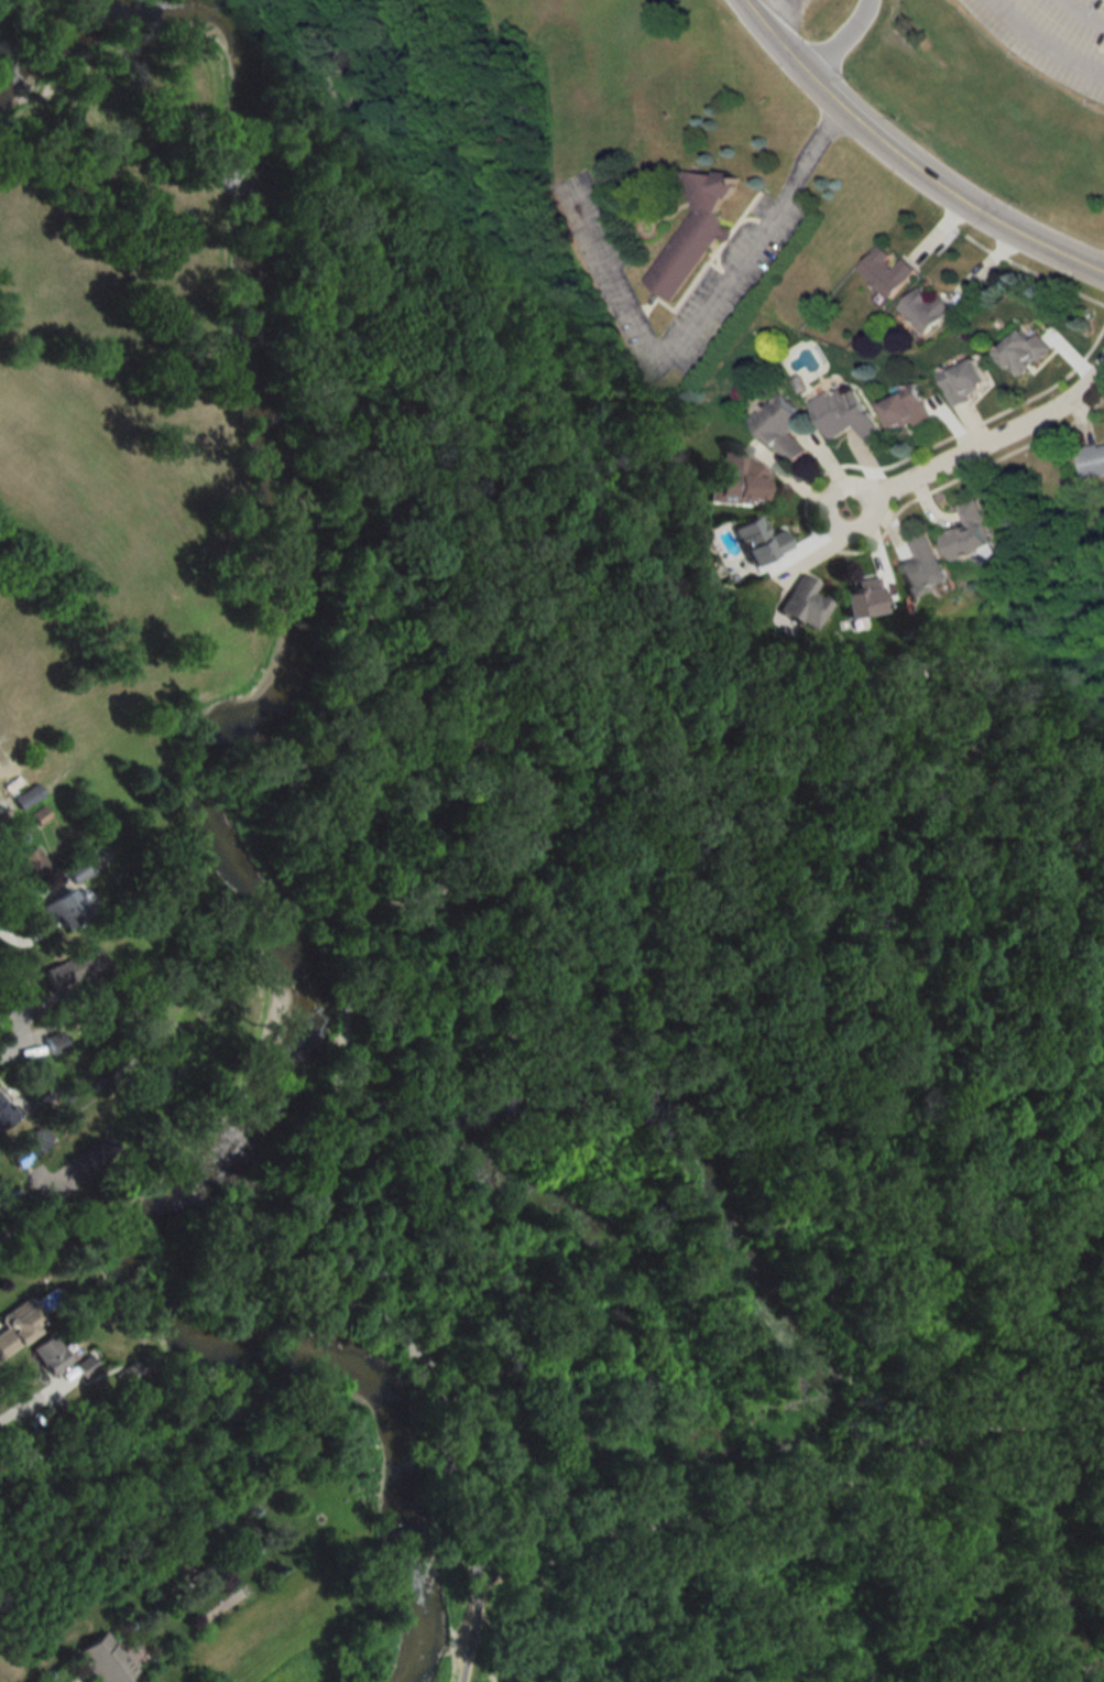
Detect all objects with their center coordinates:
road: (0, 0)
road: (306, 10)
park: (29, 14)
road: (840, 40)
road: (1045, 43)
road: (903, 162)
building: (692, 230)
road: (759, 230)
building: (887, 272)
building: (925, 310)
building: (1023, 351)
building: (963, 381)
building: (904, 409)
building: (843, 412)
building: (780, 427)
road: (983, 447)
building: (1091, 459)
building: (742, 480)
building: (969, 535)
building: (758, 541)
building: (921, 566)
building: (861, 599)
building: (802, 603)
road: (689, 719)
building: (4, 744)
building: (26, 796)
river: (211, 833)
building: (29, 866)
building: (74, 871)
road: (327, 873)
building: (58, 911)
building: (72, 972)
park: (626, 1023)
road: (11, 1039)
building: (52, 1043)
building: (8, 1106)
building: (28, 1144)
road: (32, 1211)
building: (17, 1324)
building: (48, 1355)
building: (85, 1366)
road: (32, 1400)
road: (1100, 1425)
road: (793, 1497)
road: (1091, 1535)
building: (218, 1561)
building: (102, 1661)

